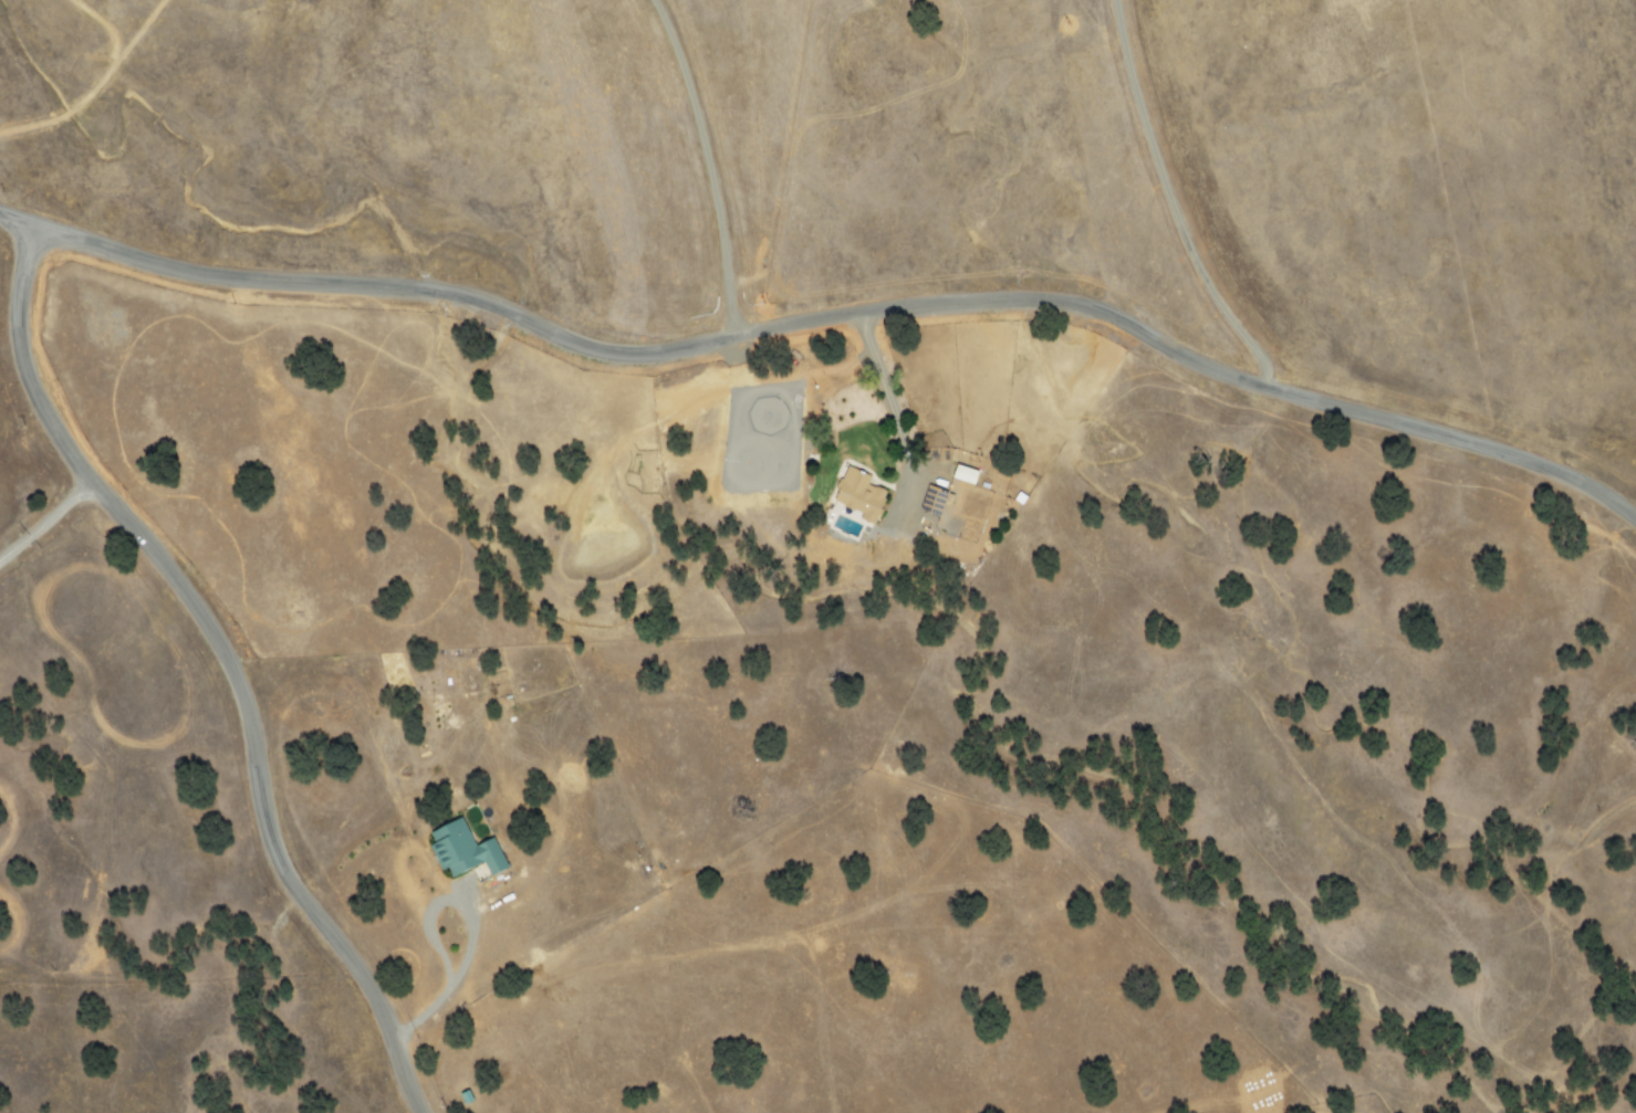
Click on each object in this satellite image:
road: (706, 167)
road: (1167, 201)
road: (829, 321)
road: (887, 397)
building: (967, 474)
building: (859, 493)
road: (44, 516)
road: (225, 660)
building: (466, 850)
road: (460, 967)

